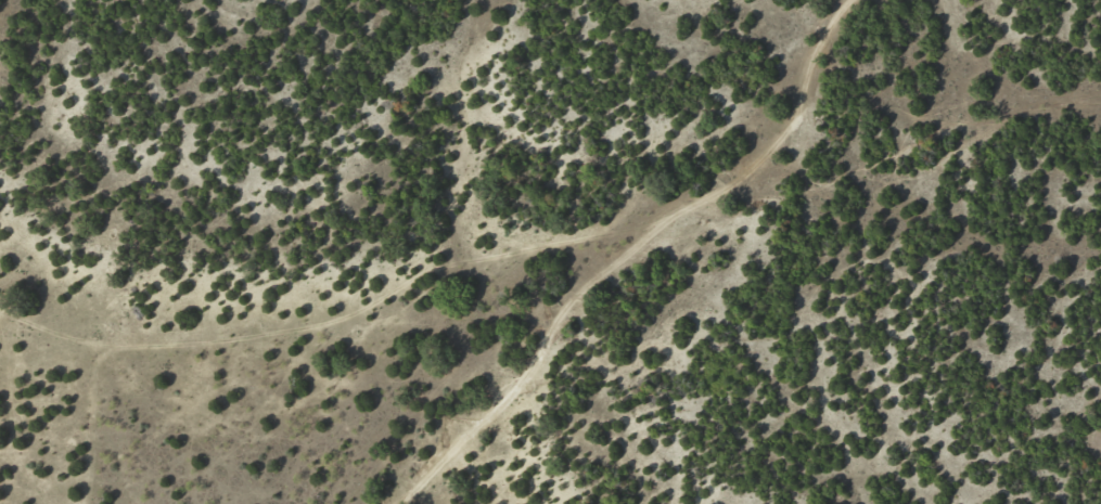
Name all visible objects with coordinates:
road: (689, 281)

